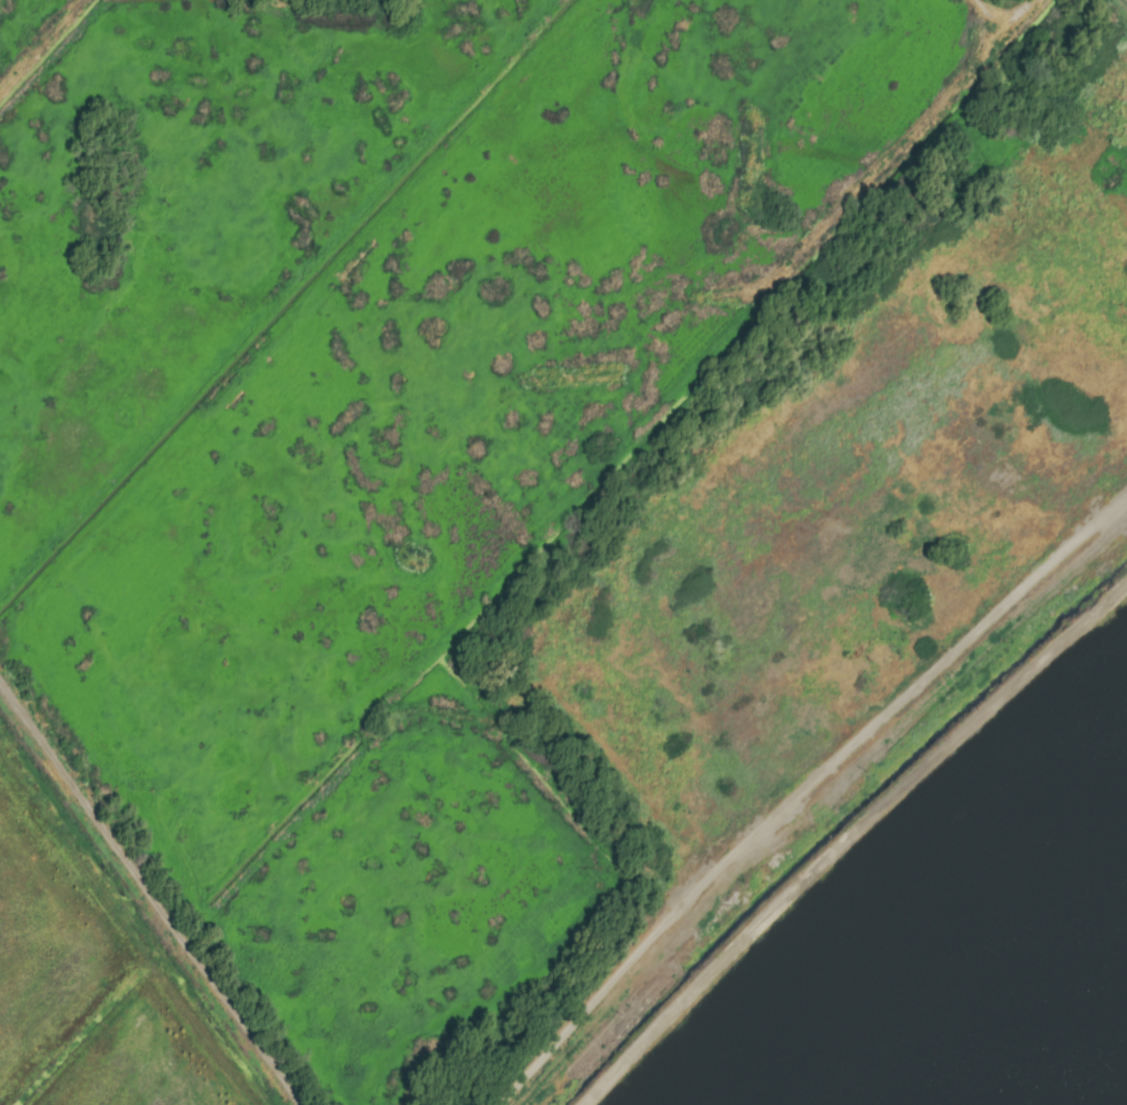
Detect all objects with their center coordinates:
crop: (563, 552)

